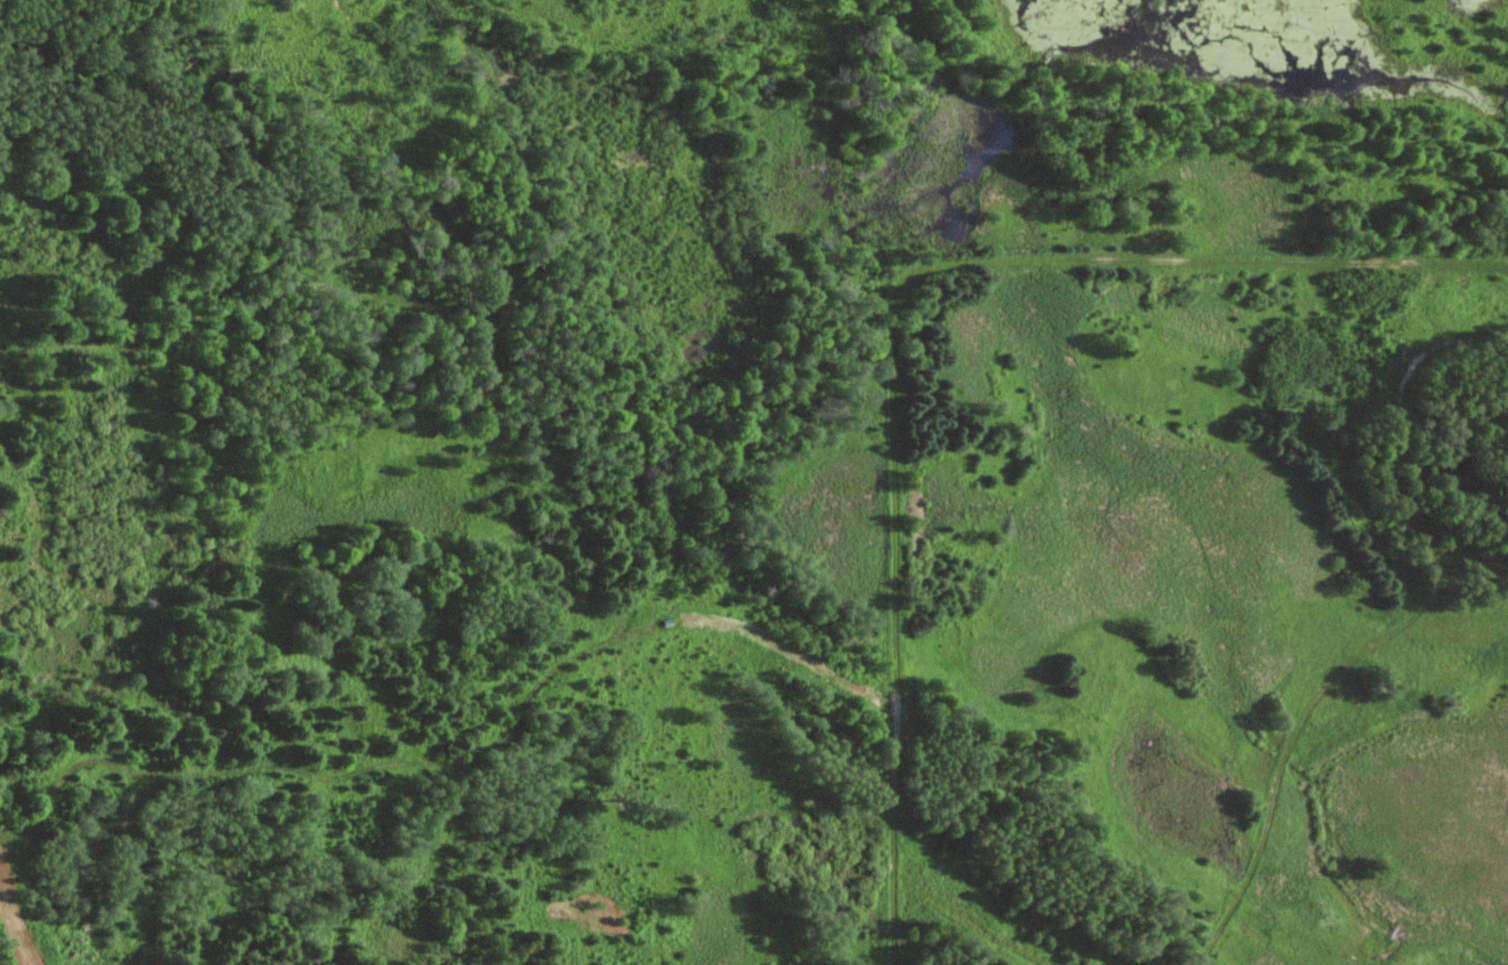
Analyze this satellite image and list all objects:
road: (1505, 267)
road: (891, 316)

